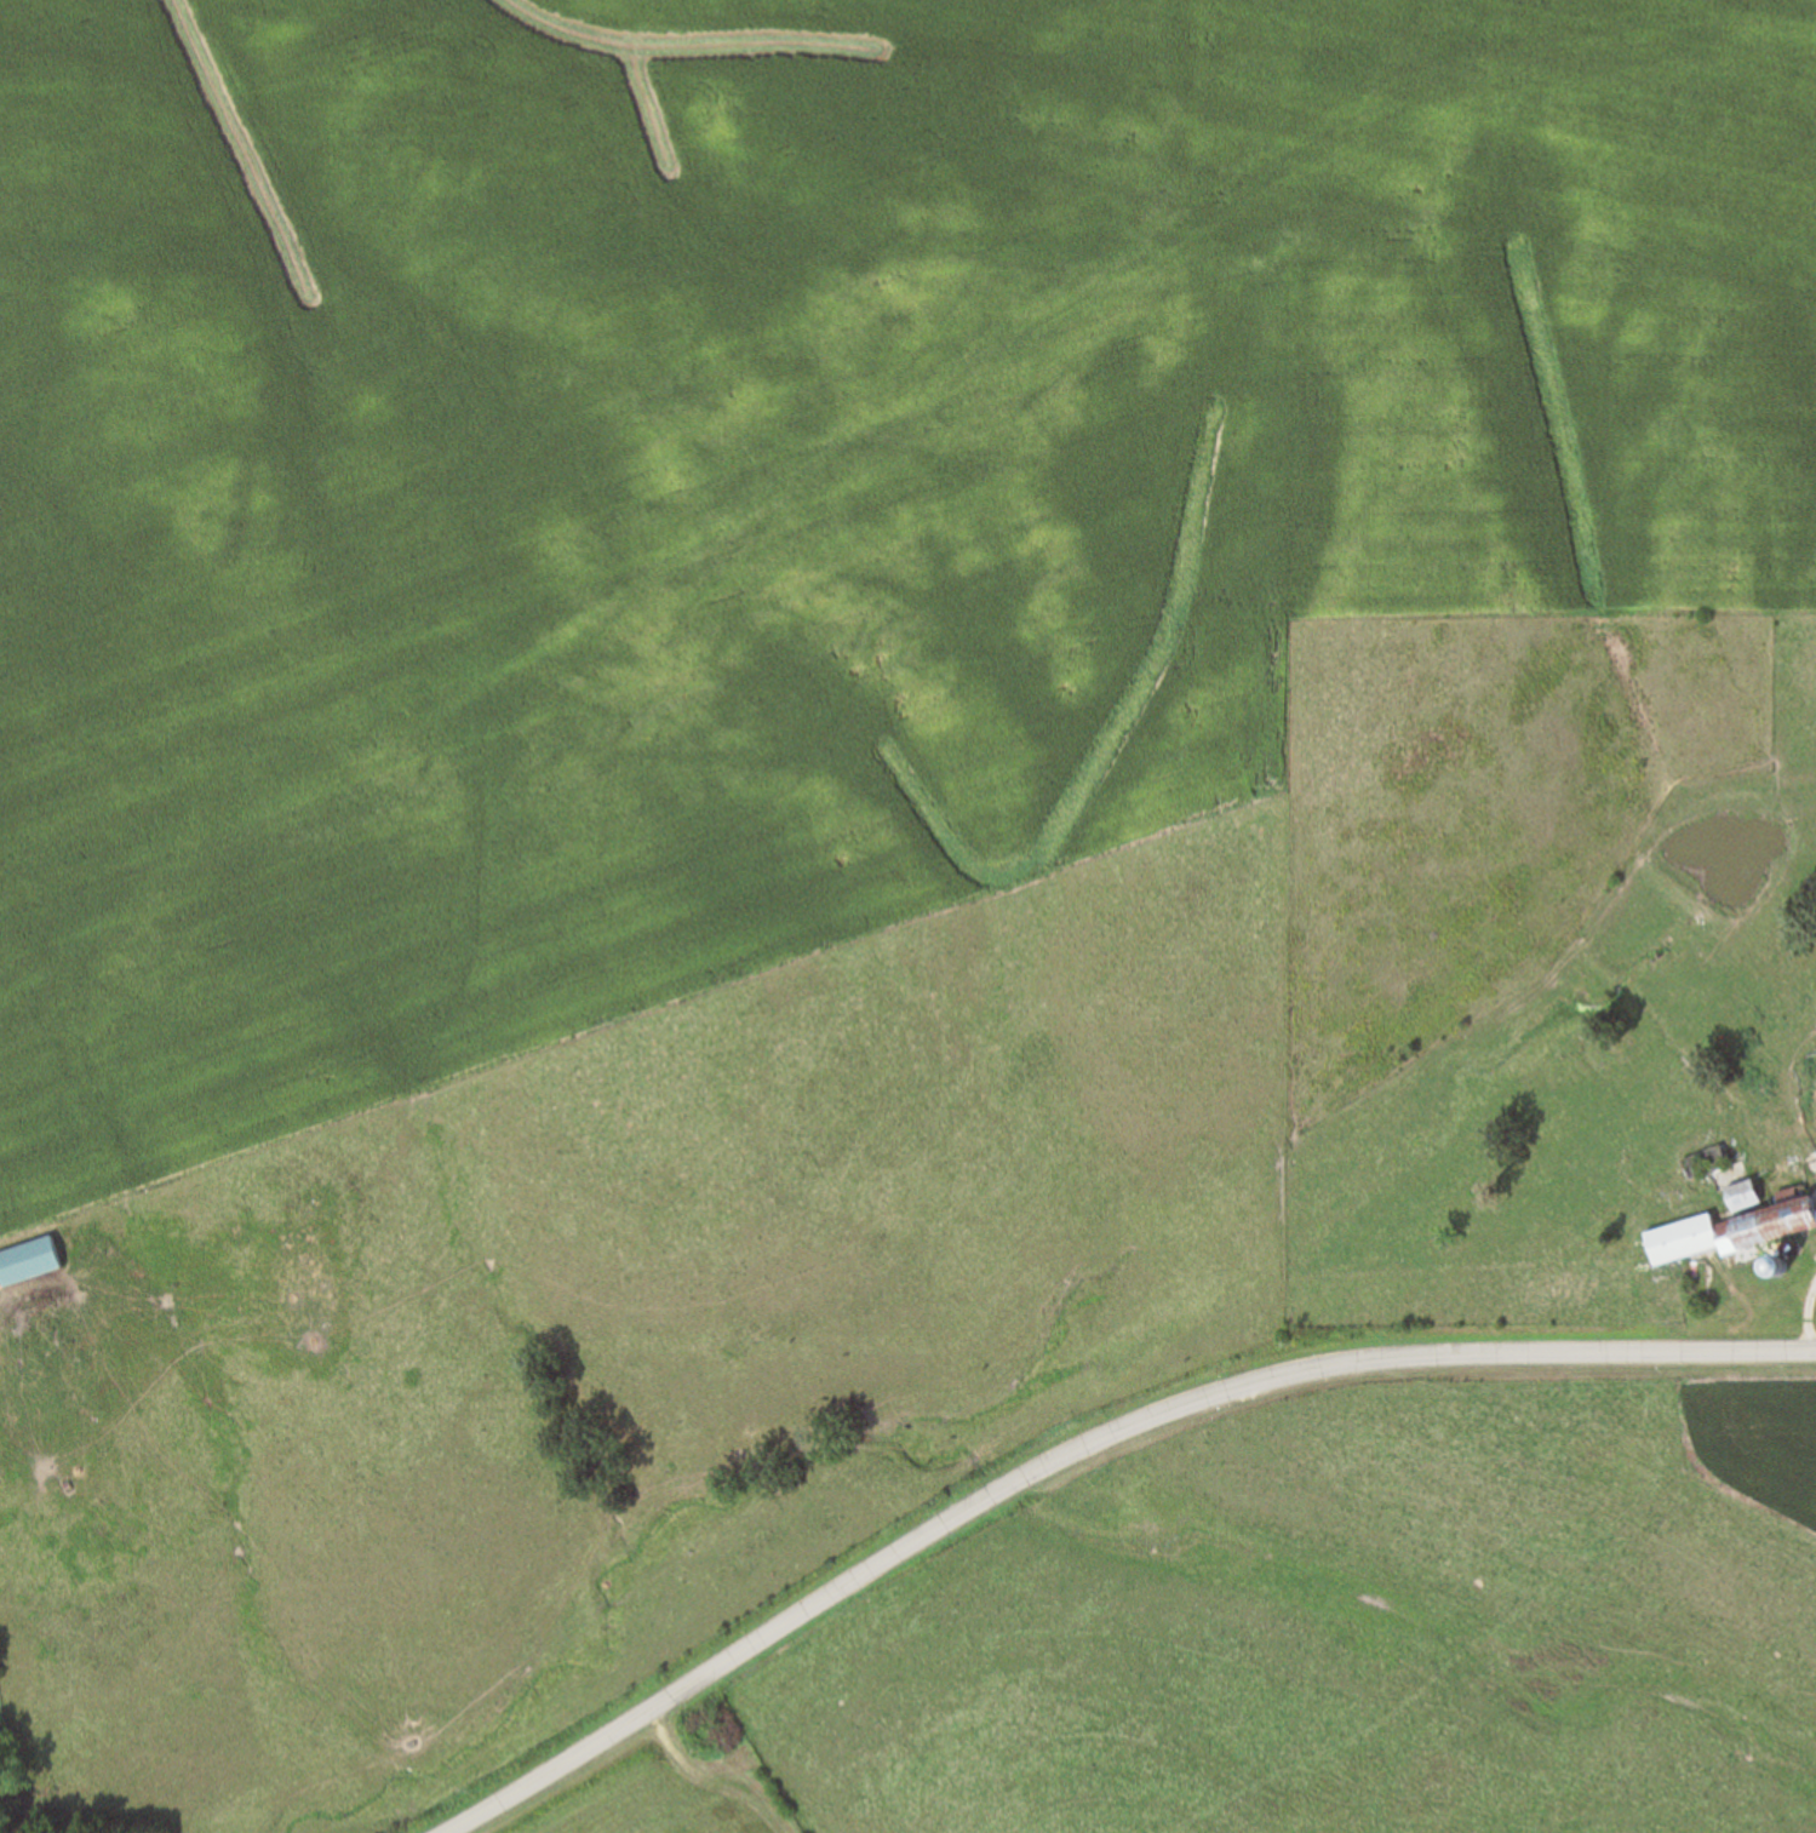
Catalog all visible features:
building: (1702, 1164)
building: (1740, 1197)
building: (1764, 1231)
building: (1680, 1241)
building: (27, 1262)
road: (1090, 1449)

